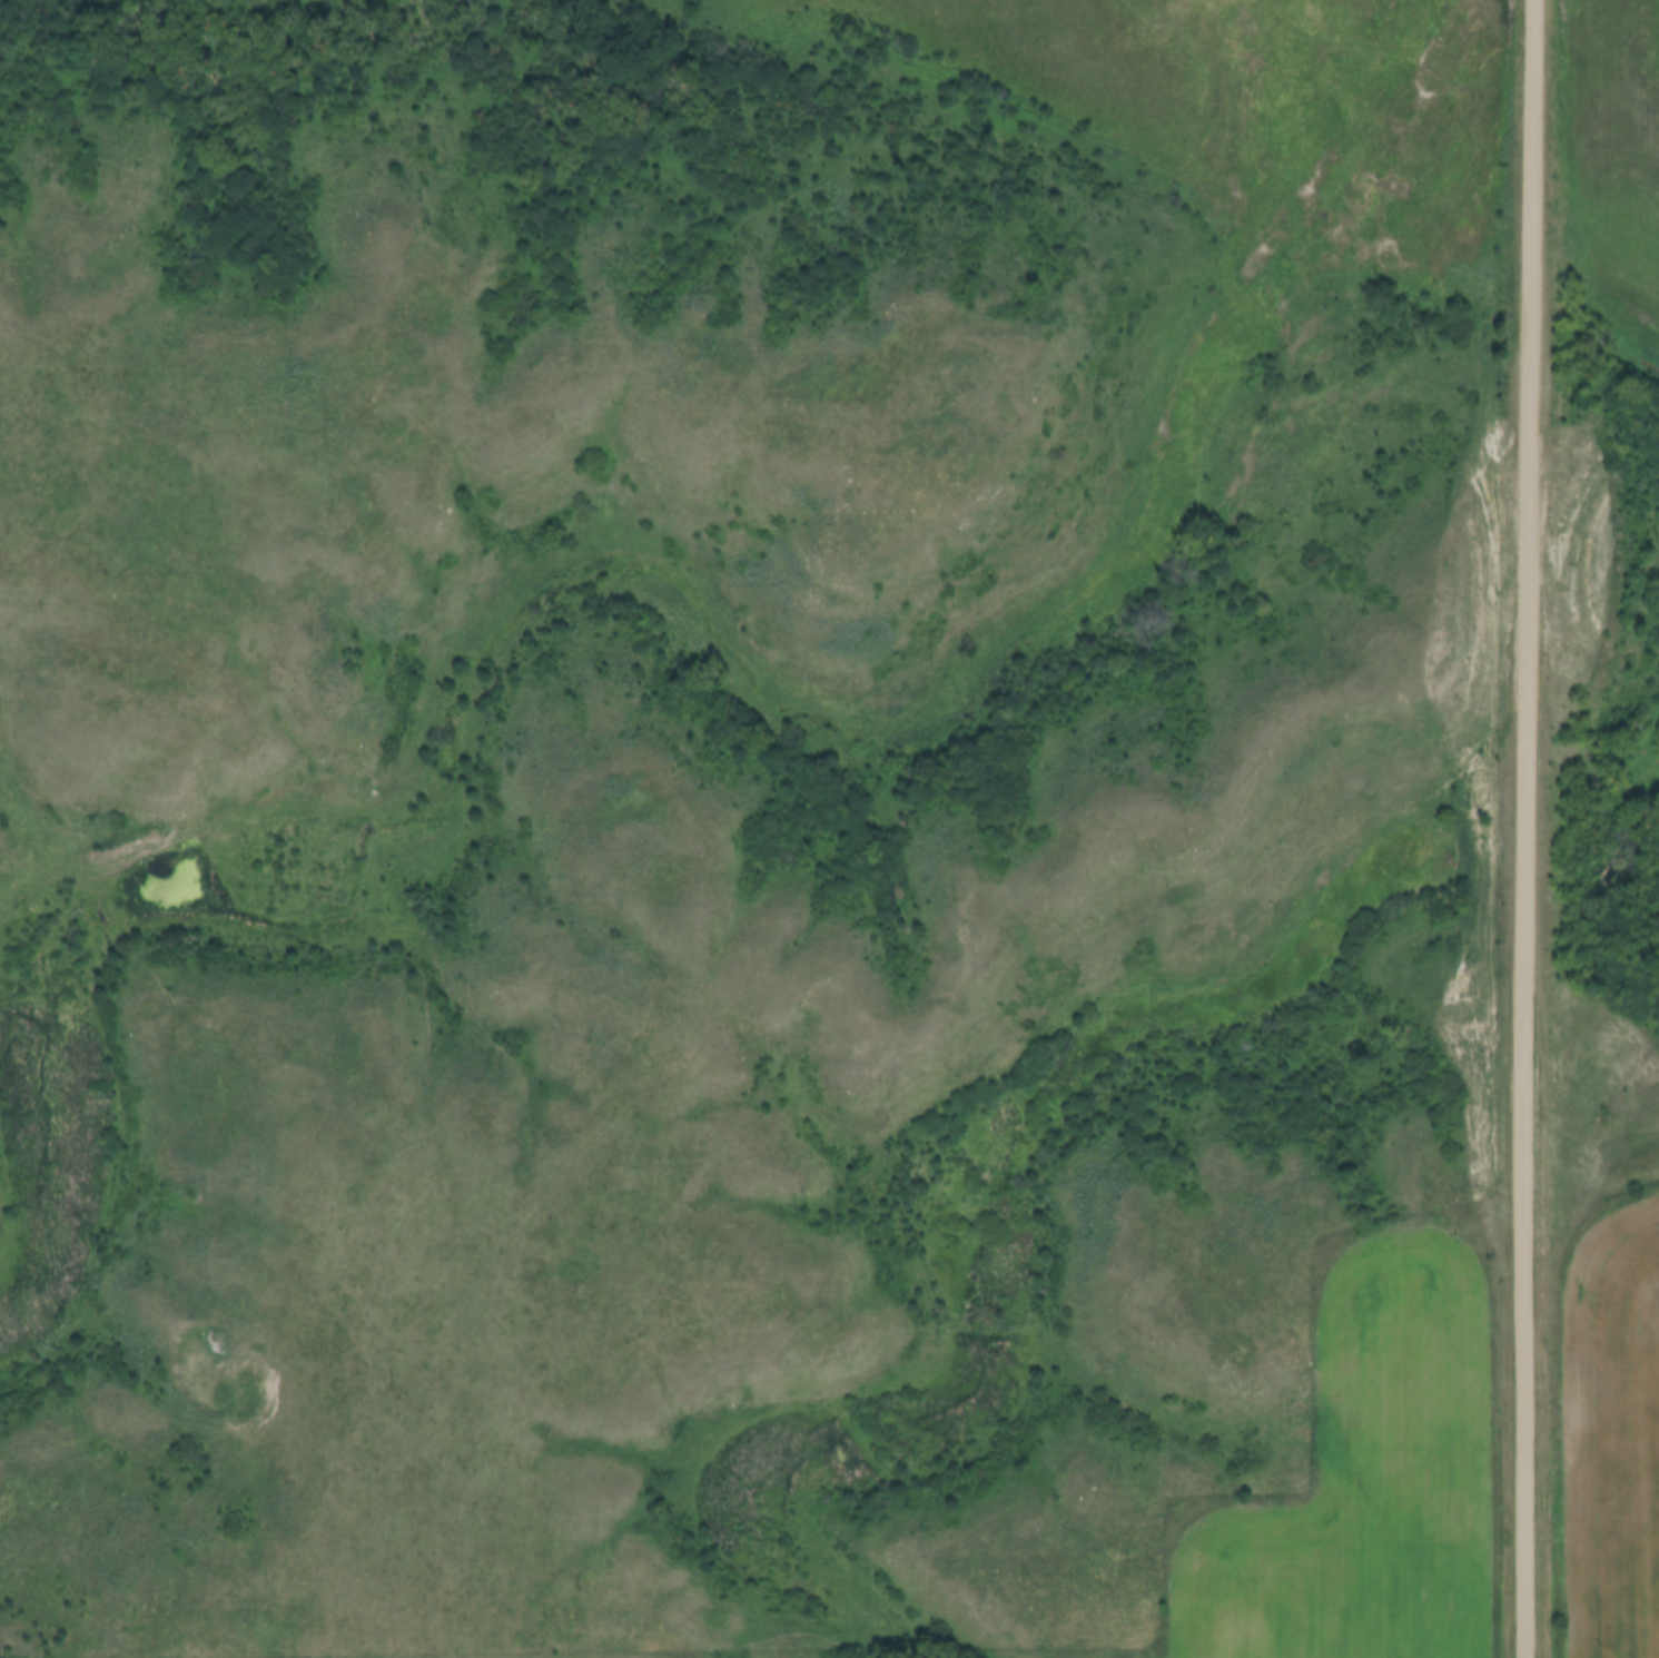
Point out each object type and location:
road: (1597, 312)
road: (1527, 828)
road: (1592, 1177)

